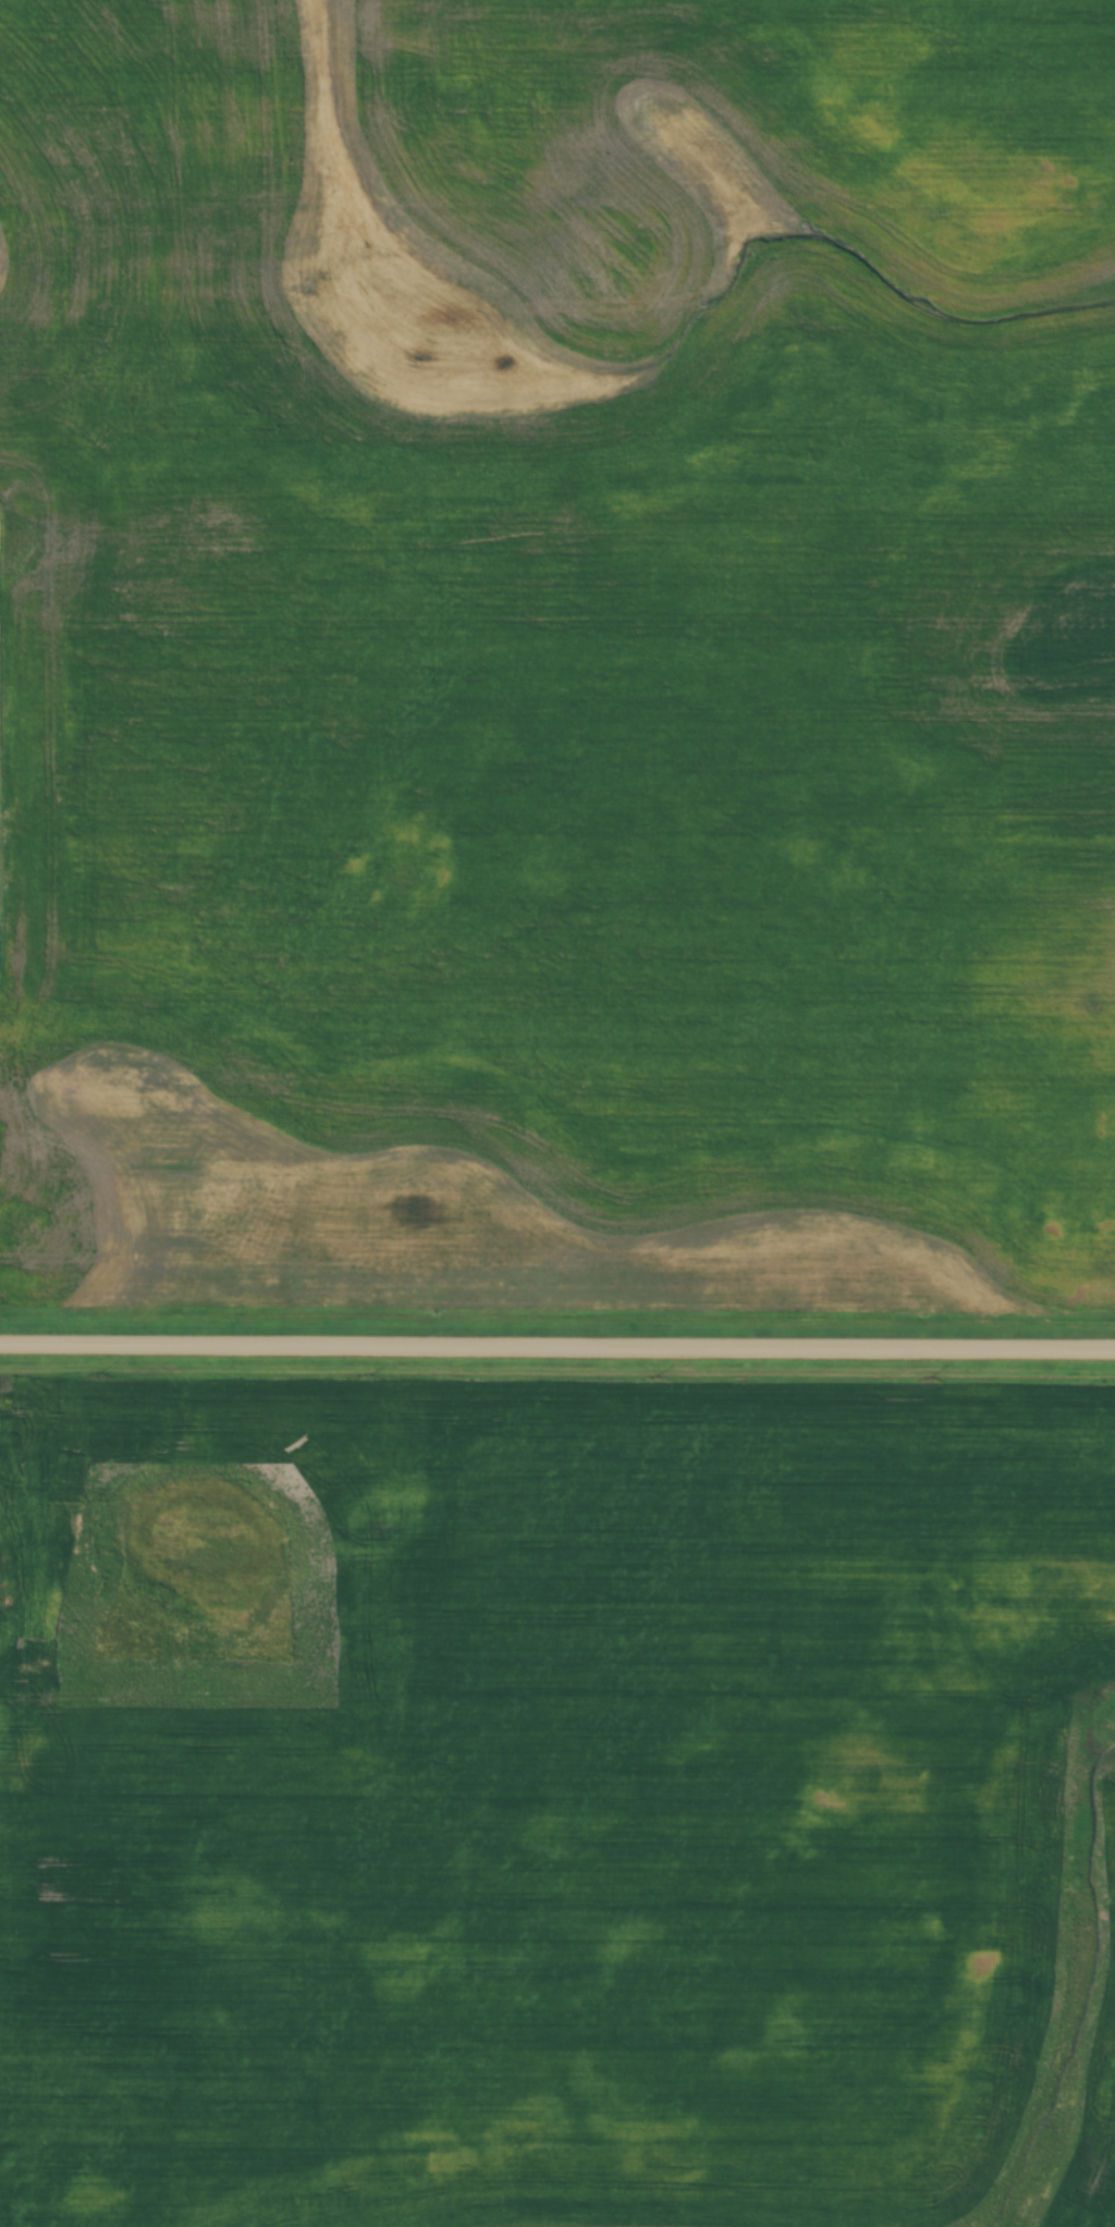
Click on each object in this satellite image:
road: (556, 1347)

